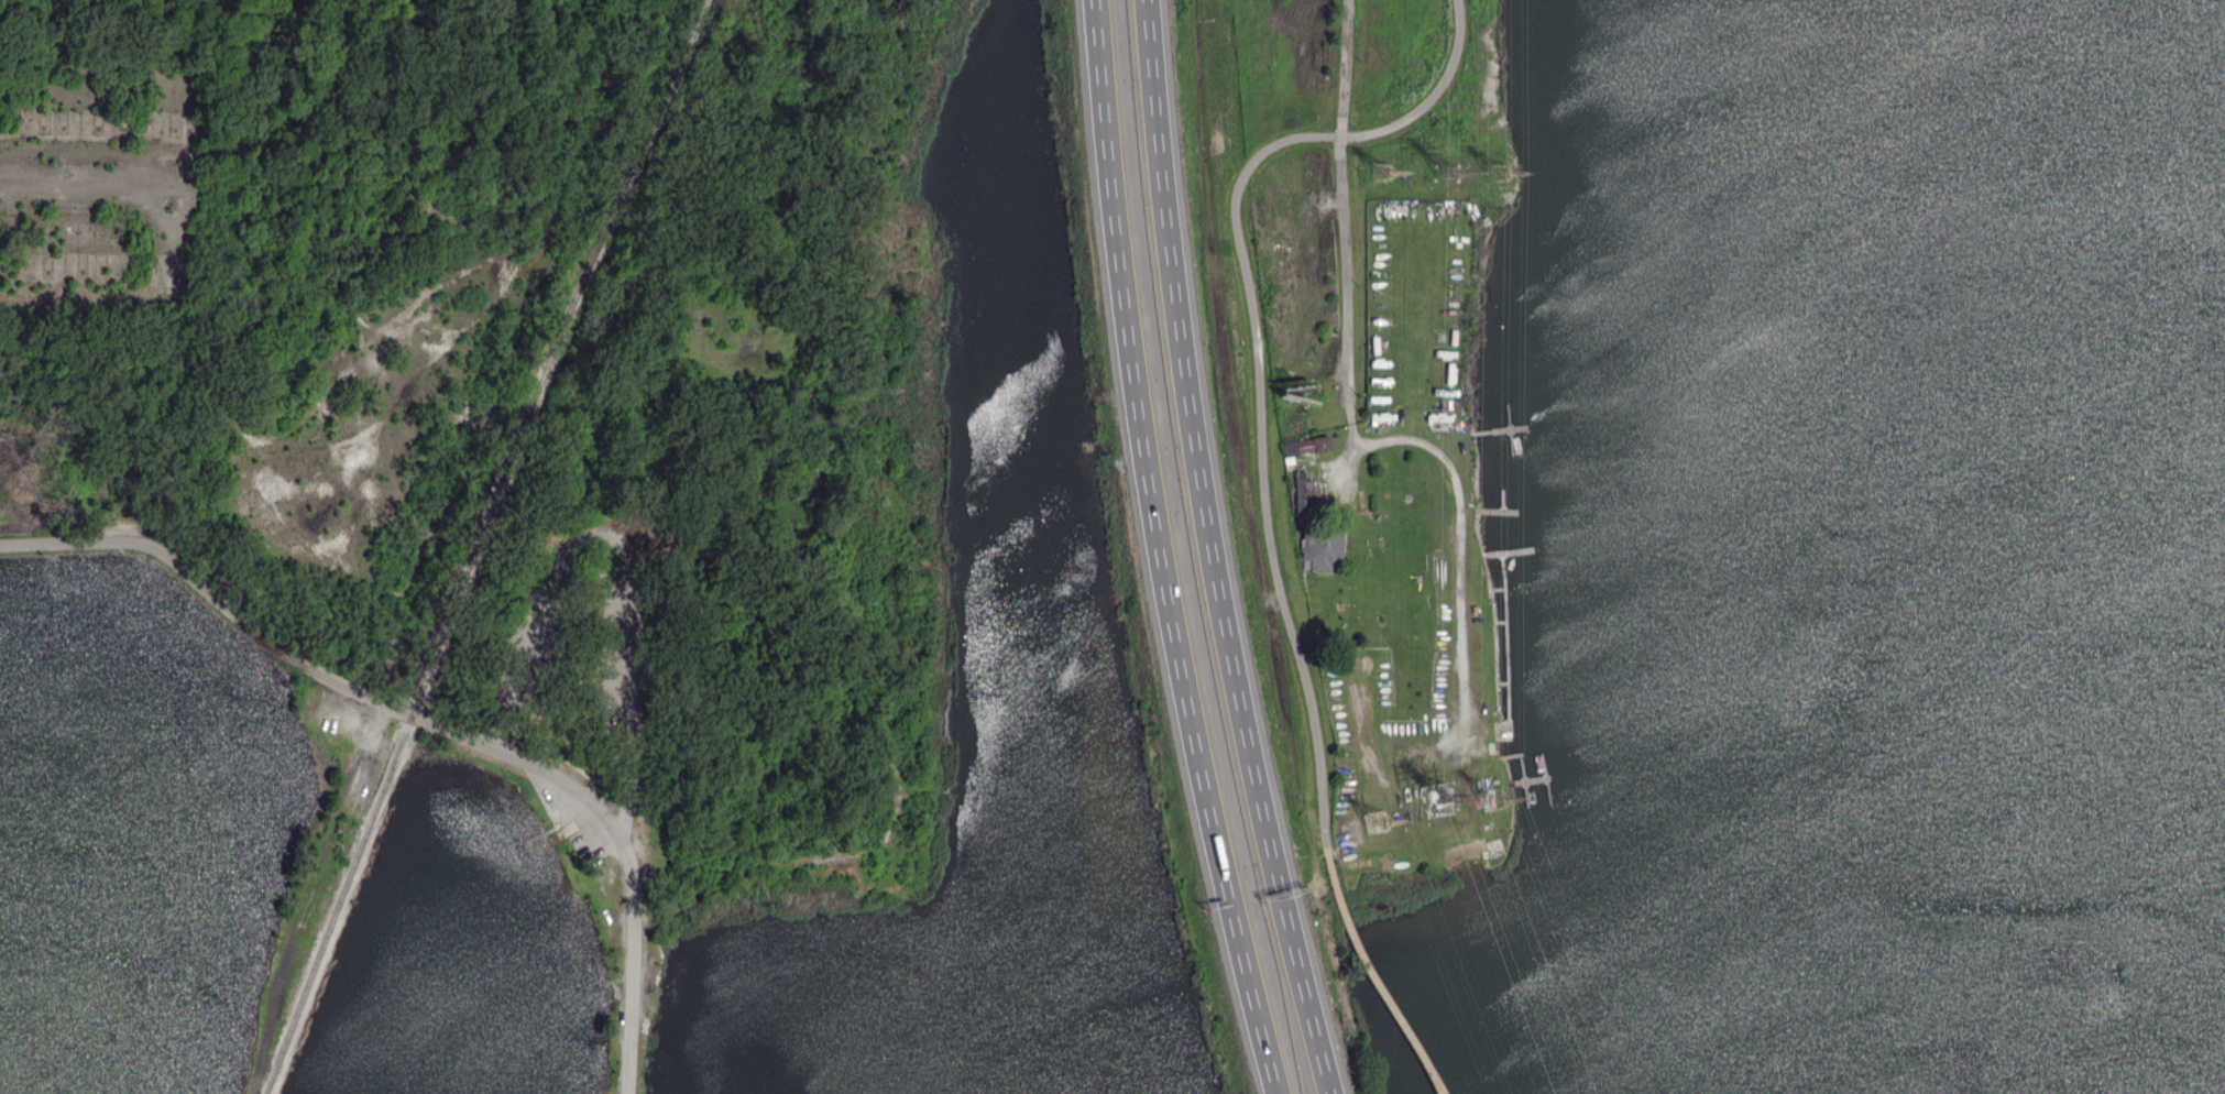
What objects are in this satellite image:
power tower: (1380, 174)
power tower: (1497, 174)
power tower: (1449, 177)
road: (1254, 351)
road: (1351, 411)
building: (1305, 445)
building: (1300, 491)
railway: (479, 543)
road: (625, 548)
road: (1159, 550)
road: (1212, 550)
building: (1319, 550)
park: (337, 713)
road: (434, 720)
power tower: (1438, 799)
power tower: (1494, 805)
road: (565, 822)
power tower: (1379, 825)
road: (1370, 973)

